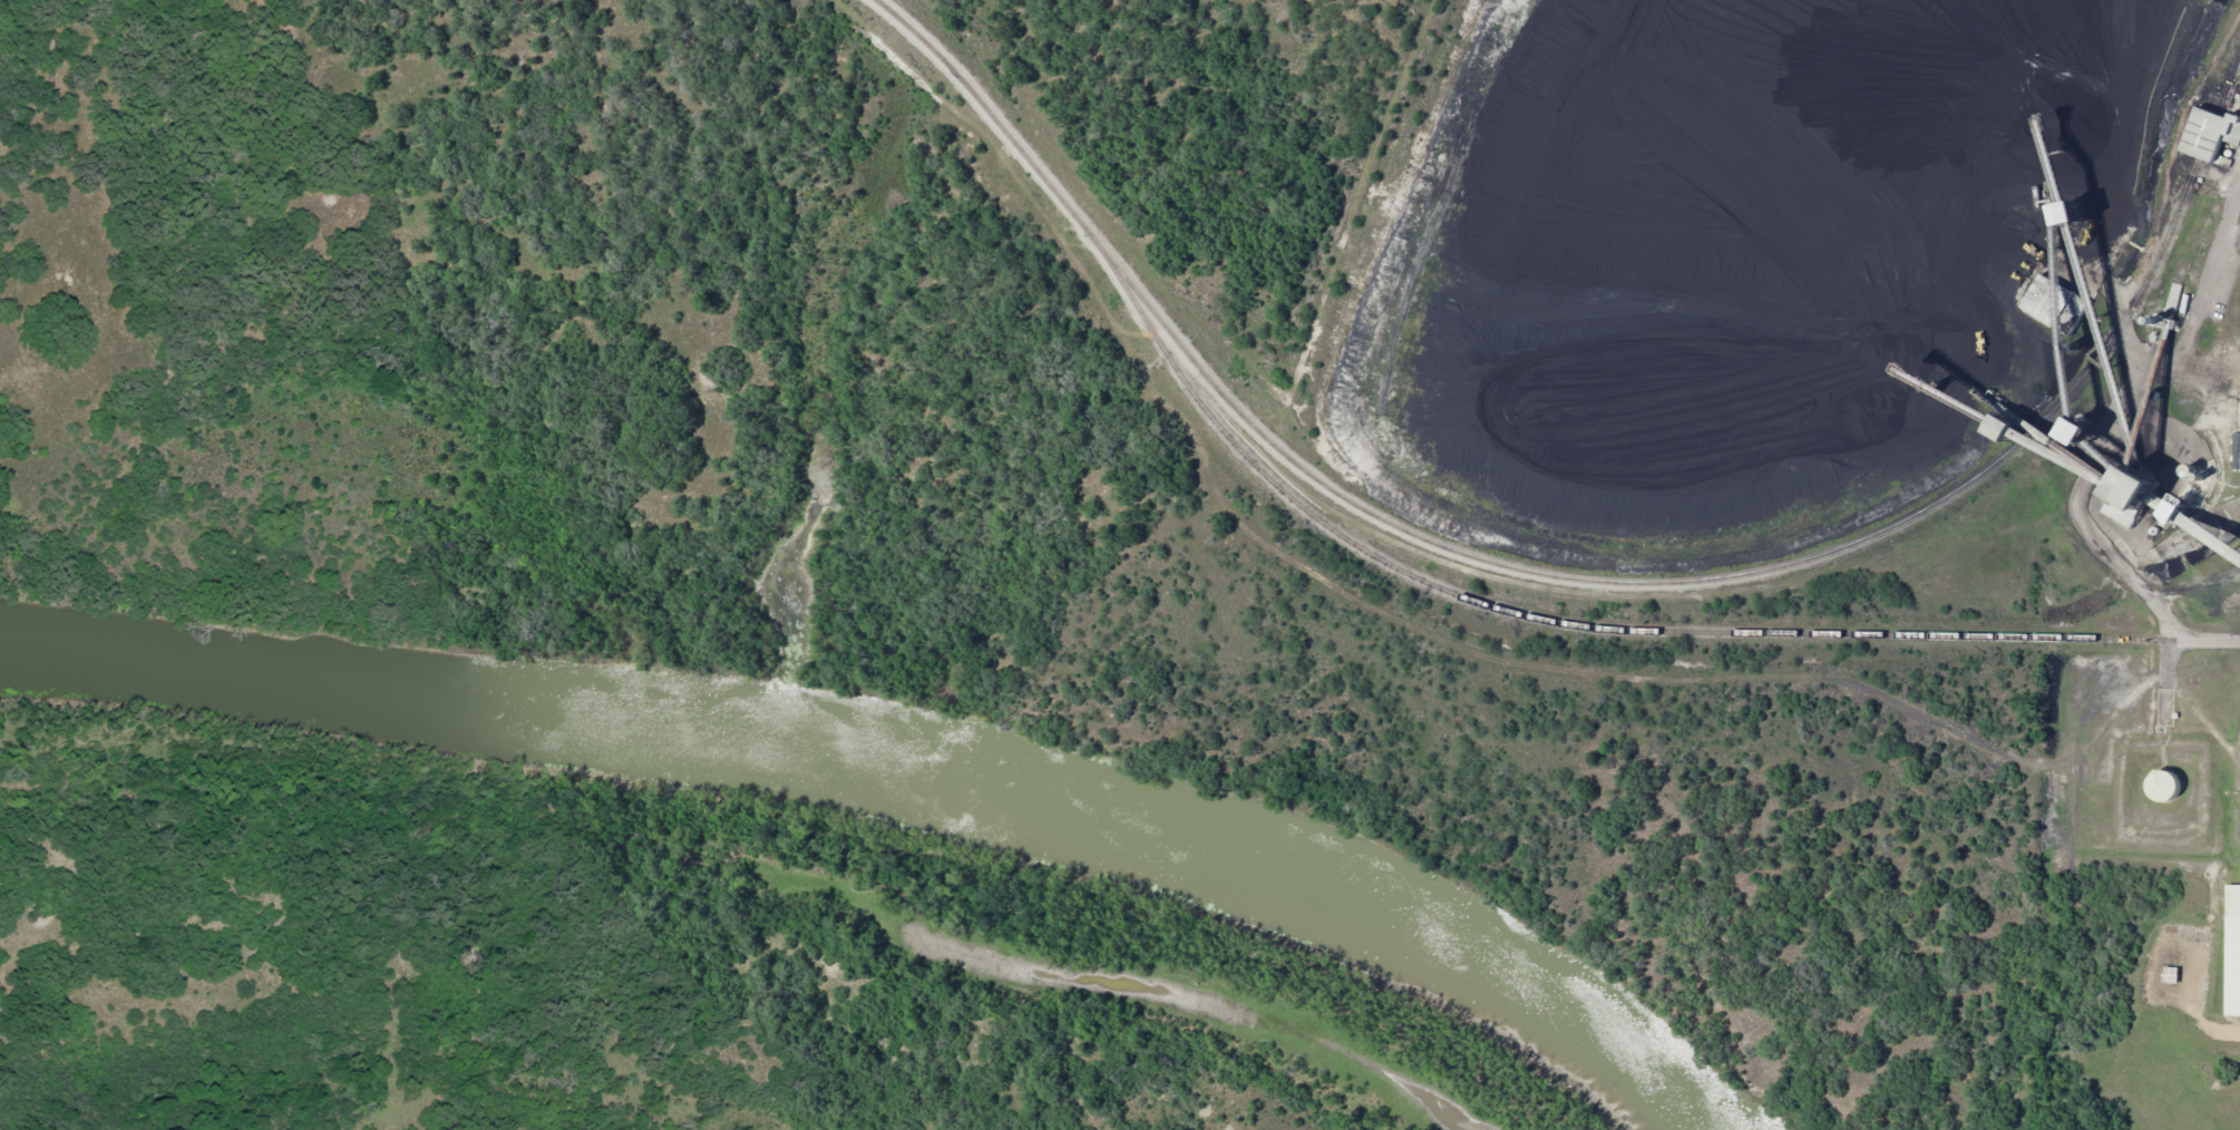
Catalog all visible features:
road: (1507, 6)
building: (2209, 134)
power plant: (1266, 437)
building: (2124, 493)
railway: (1575, 577)
railway: (1545, 620)
building: (2159, 785)
building: (2233, 949)
building: (2168, 974)

